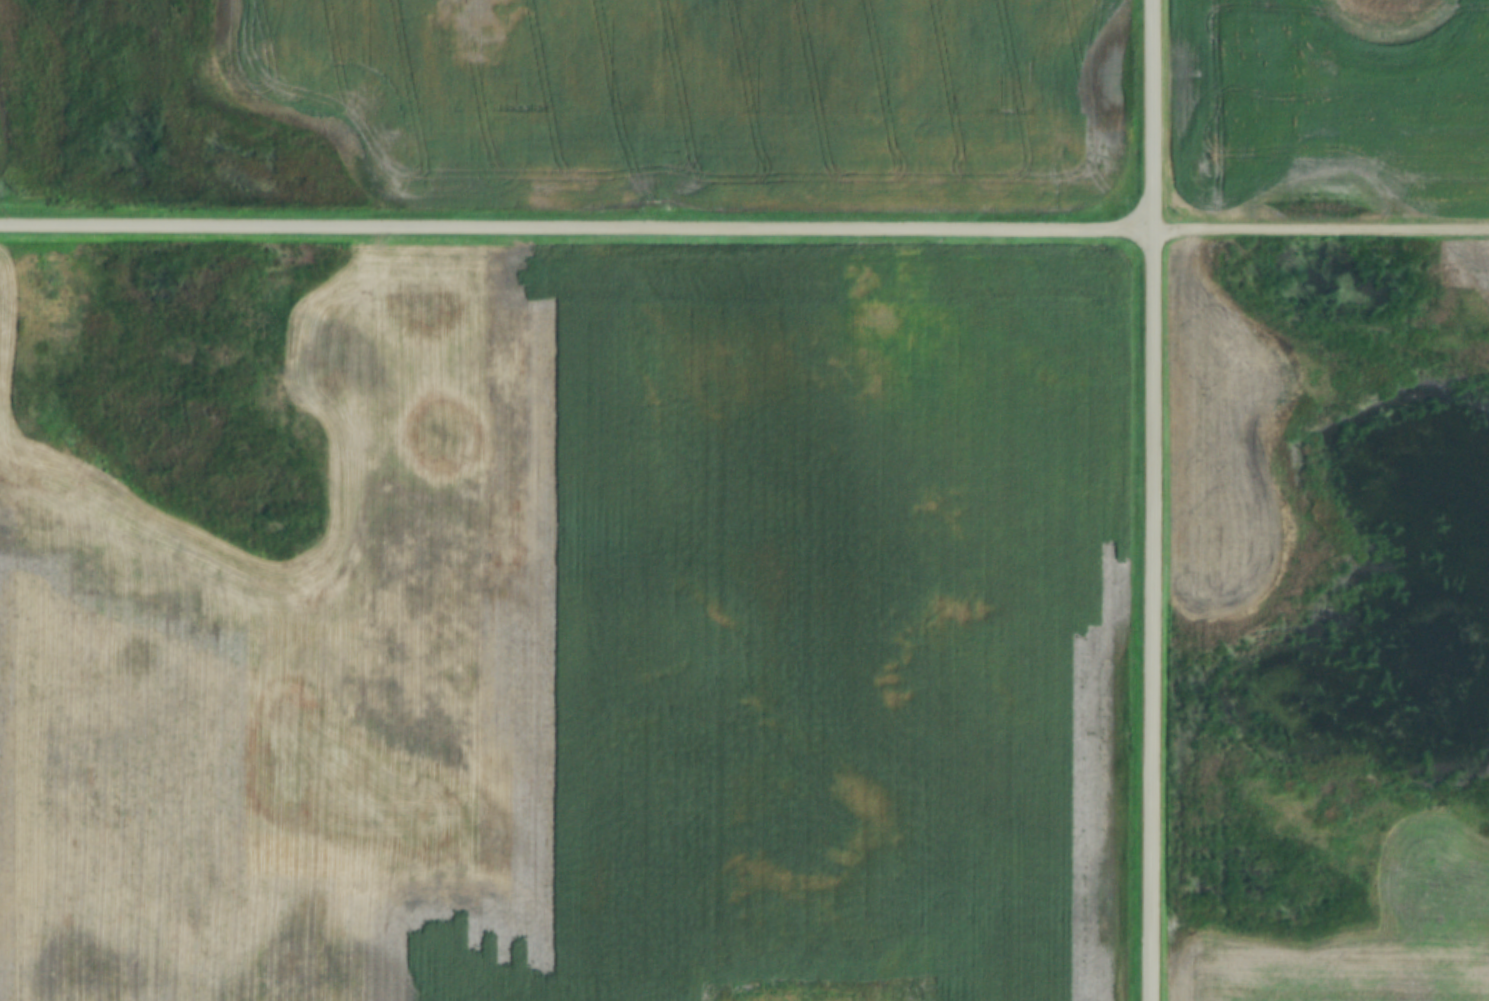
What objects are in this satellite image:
road: (744, 231)
road: (1156, 500)

